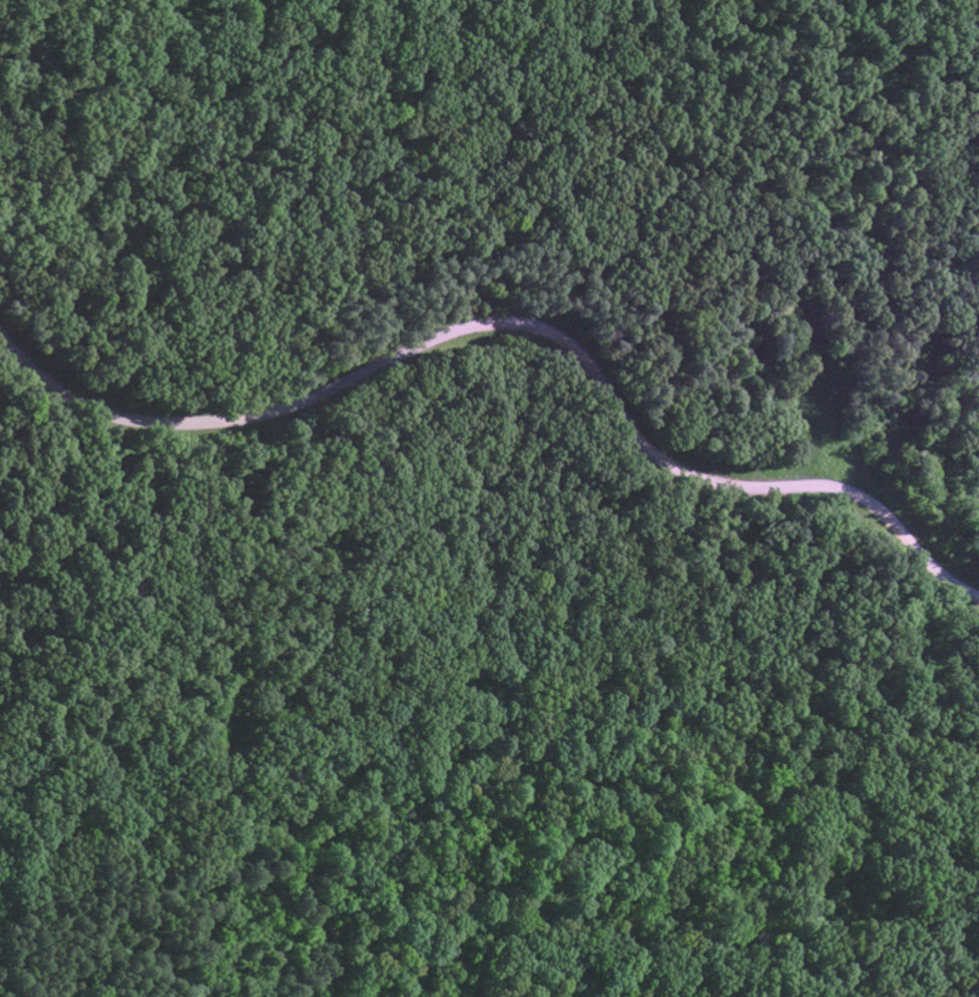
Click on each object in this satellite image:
road: (509, 330)

